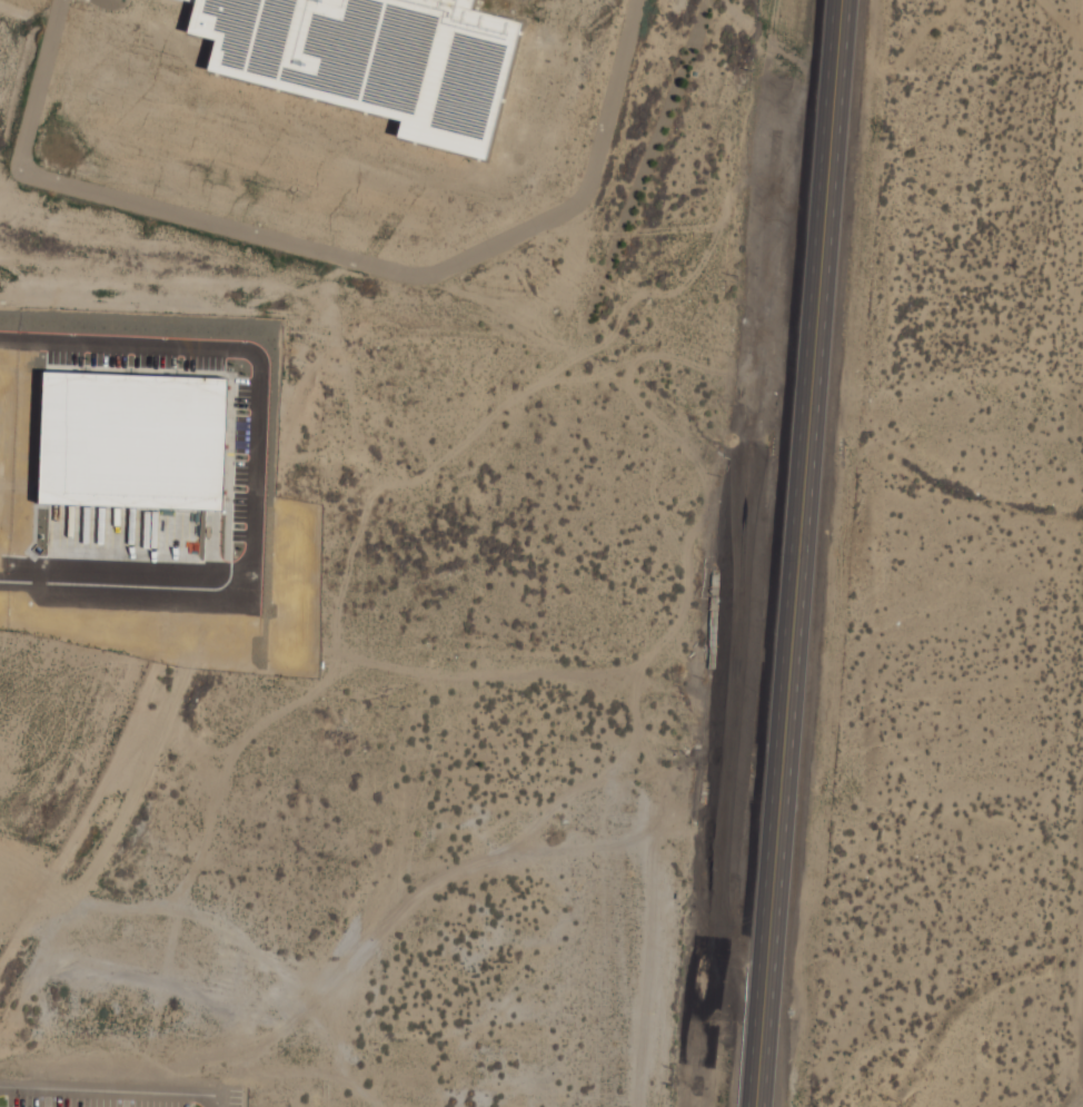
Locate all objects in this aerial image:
building: (374, 58)
road: (325, 251)
building: (127, 449)
road: (251, 472)
road: (797, 553)

